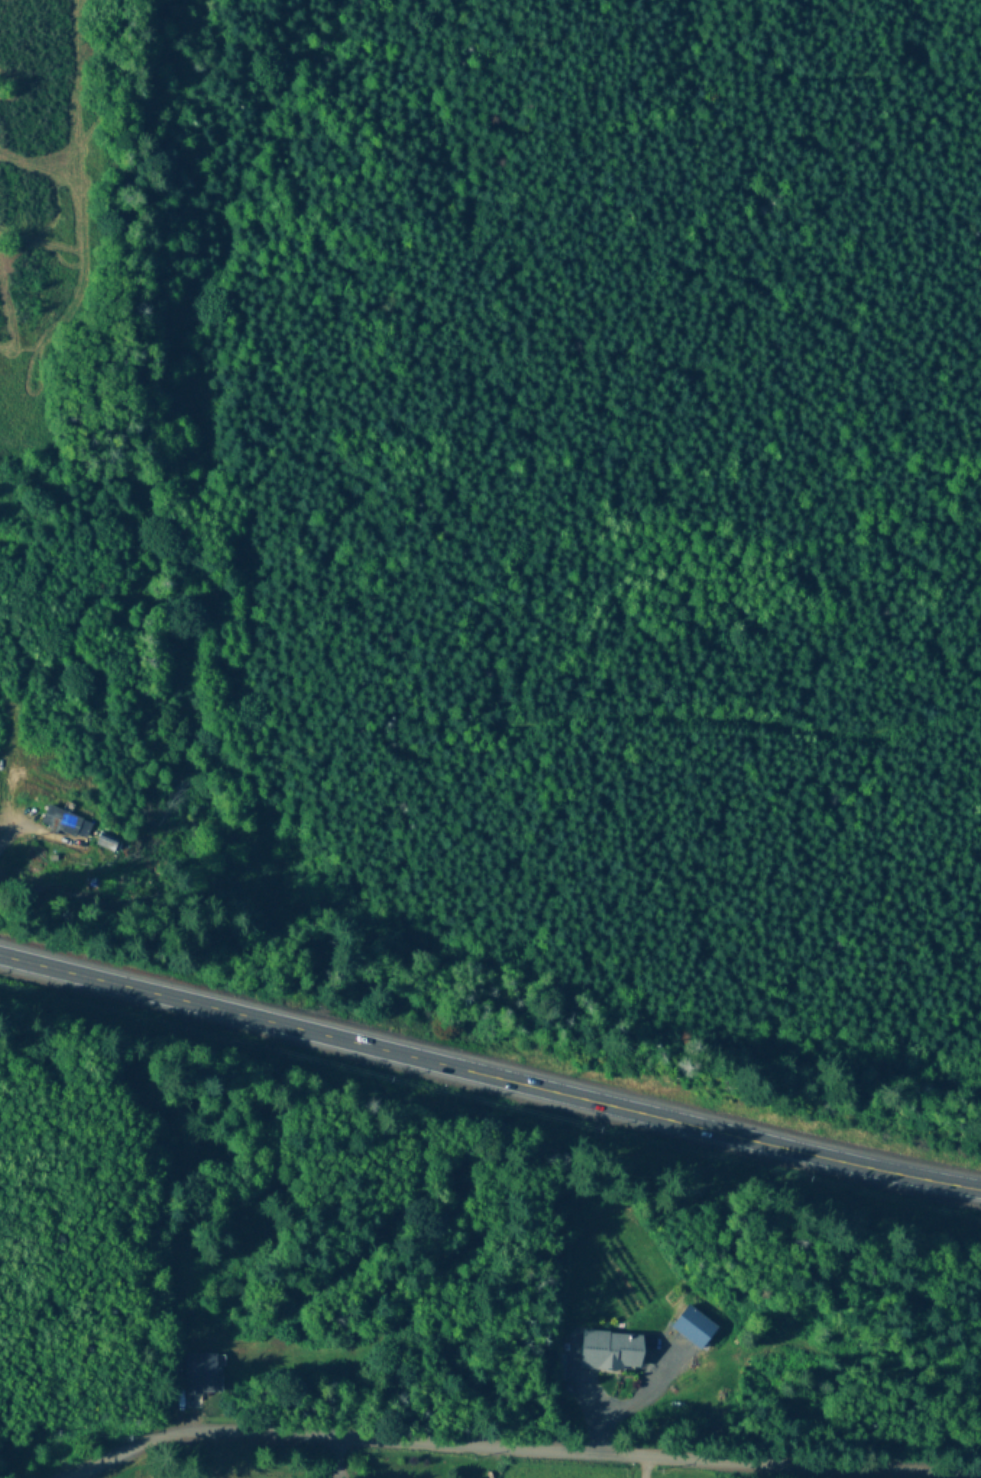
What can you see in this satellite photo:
road: (742, 721)
building: (66, 824)
road: (489, 1079)
building: (694, 1328)
building: (611, 1352)
building: (204, 1376)
road: (471, 1448)

